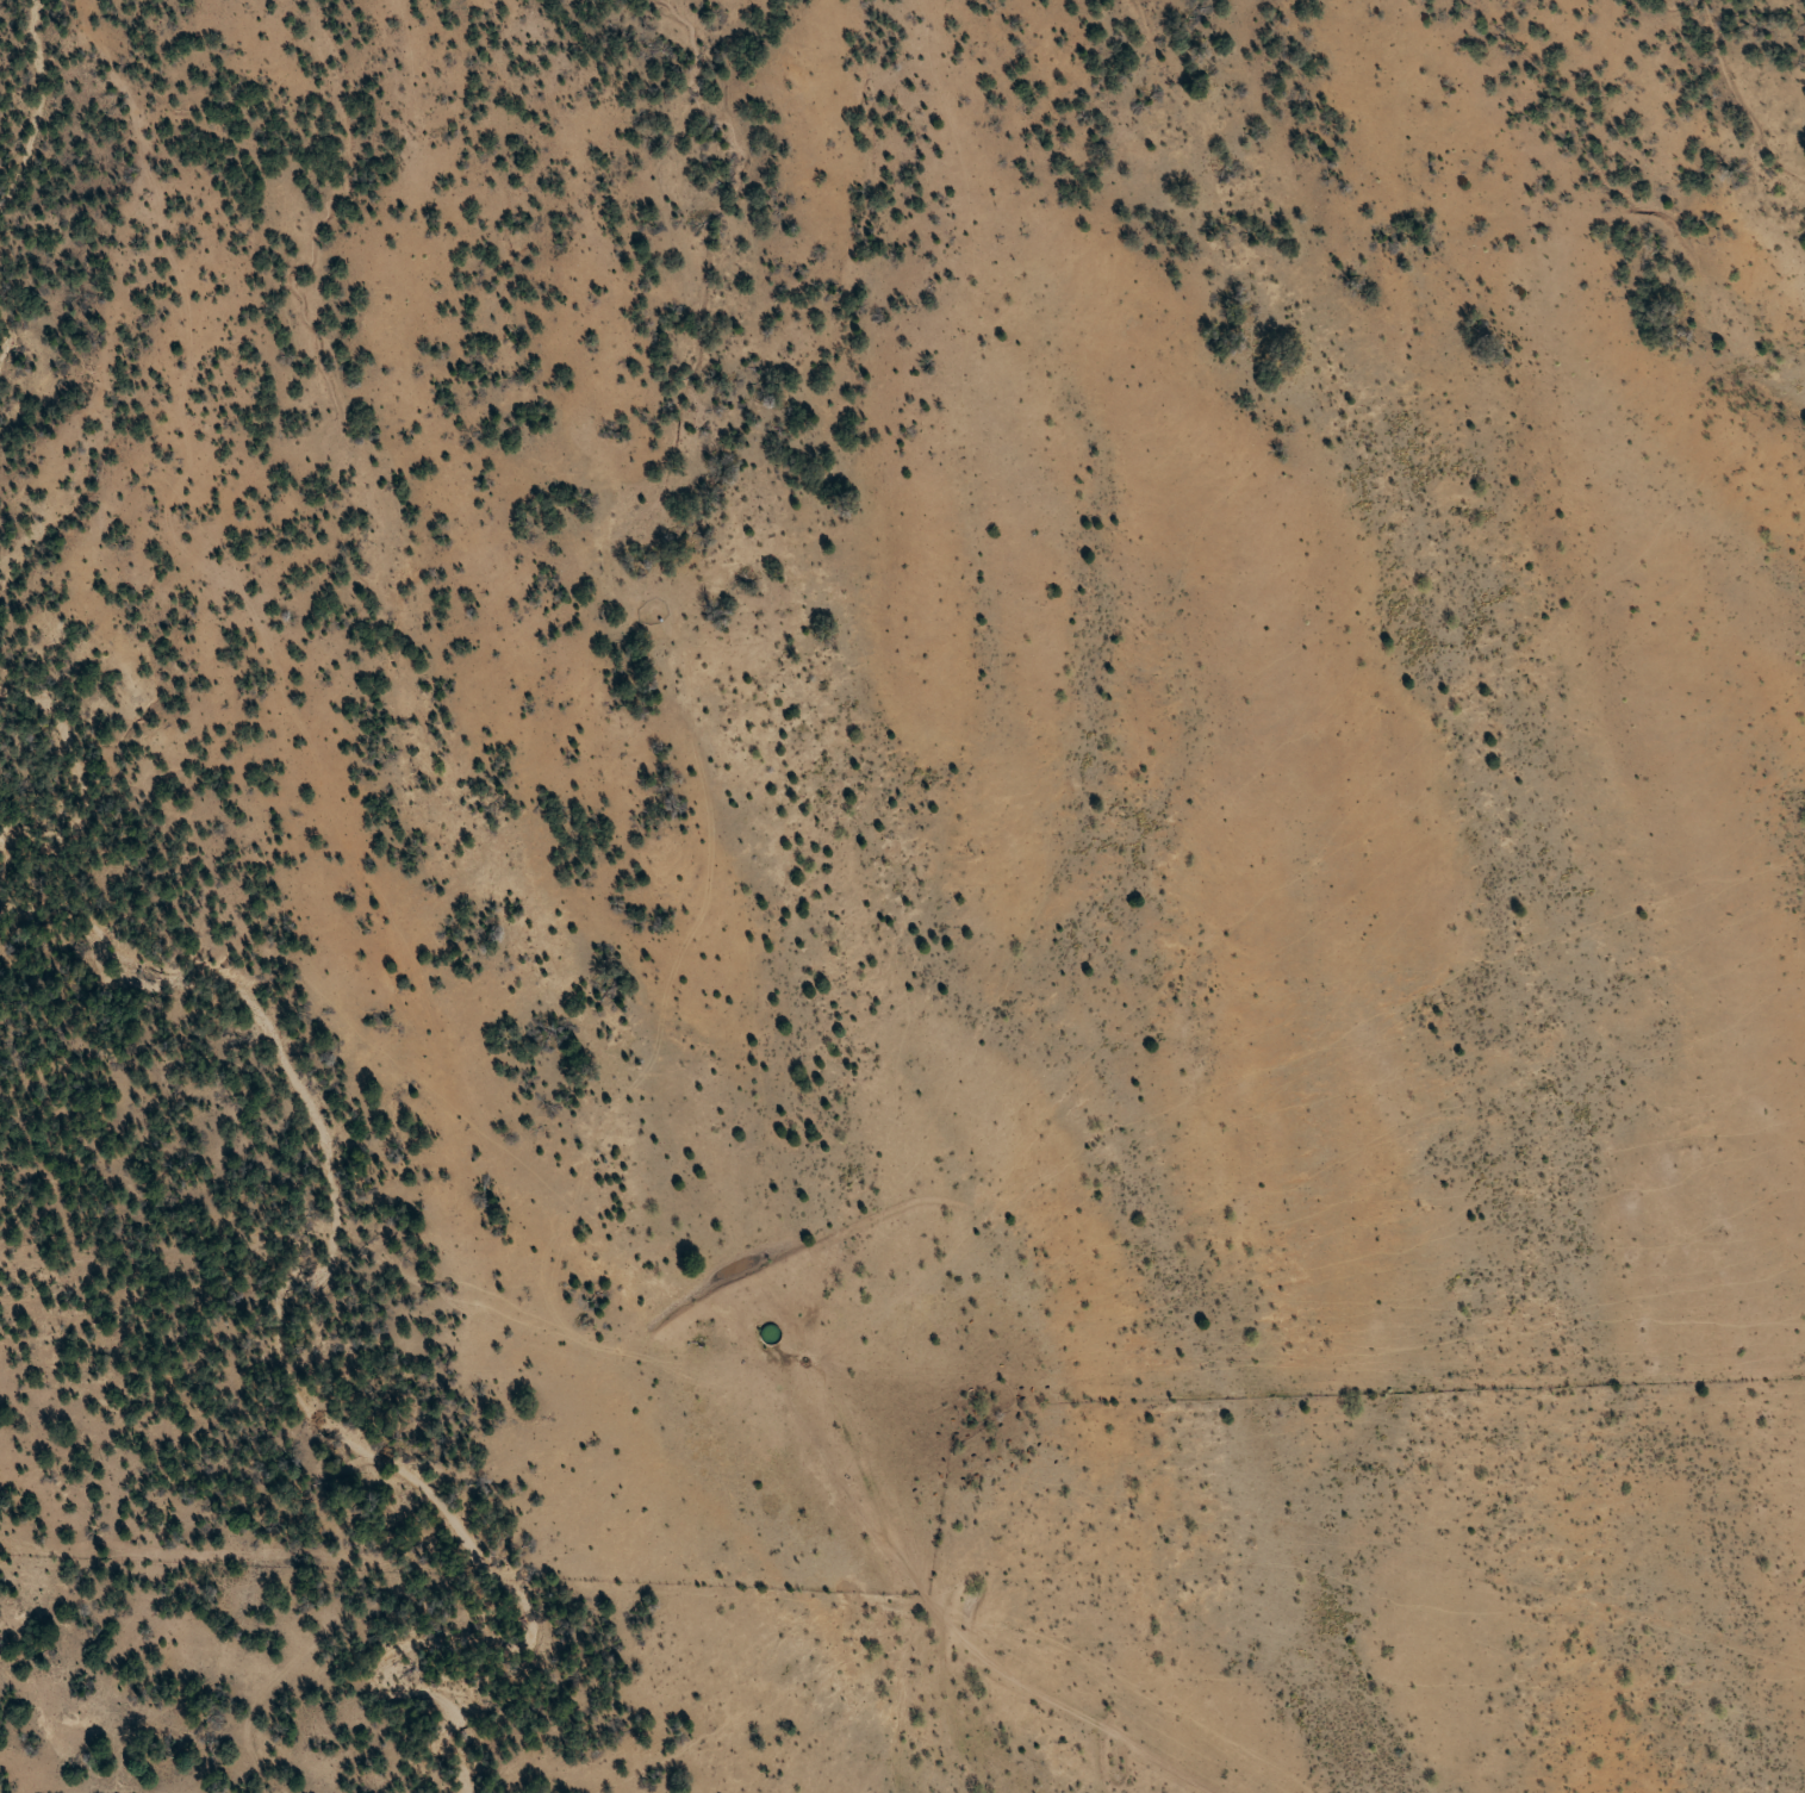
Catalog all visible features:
road: (554, 978)
road: (450, 1525)

